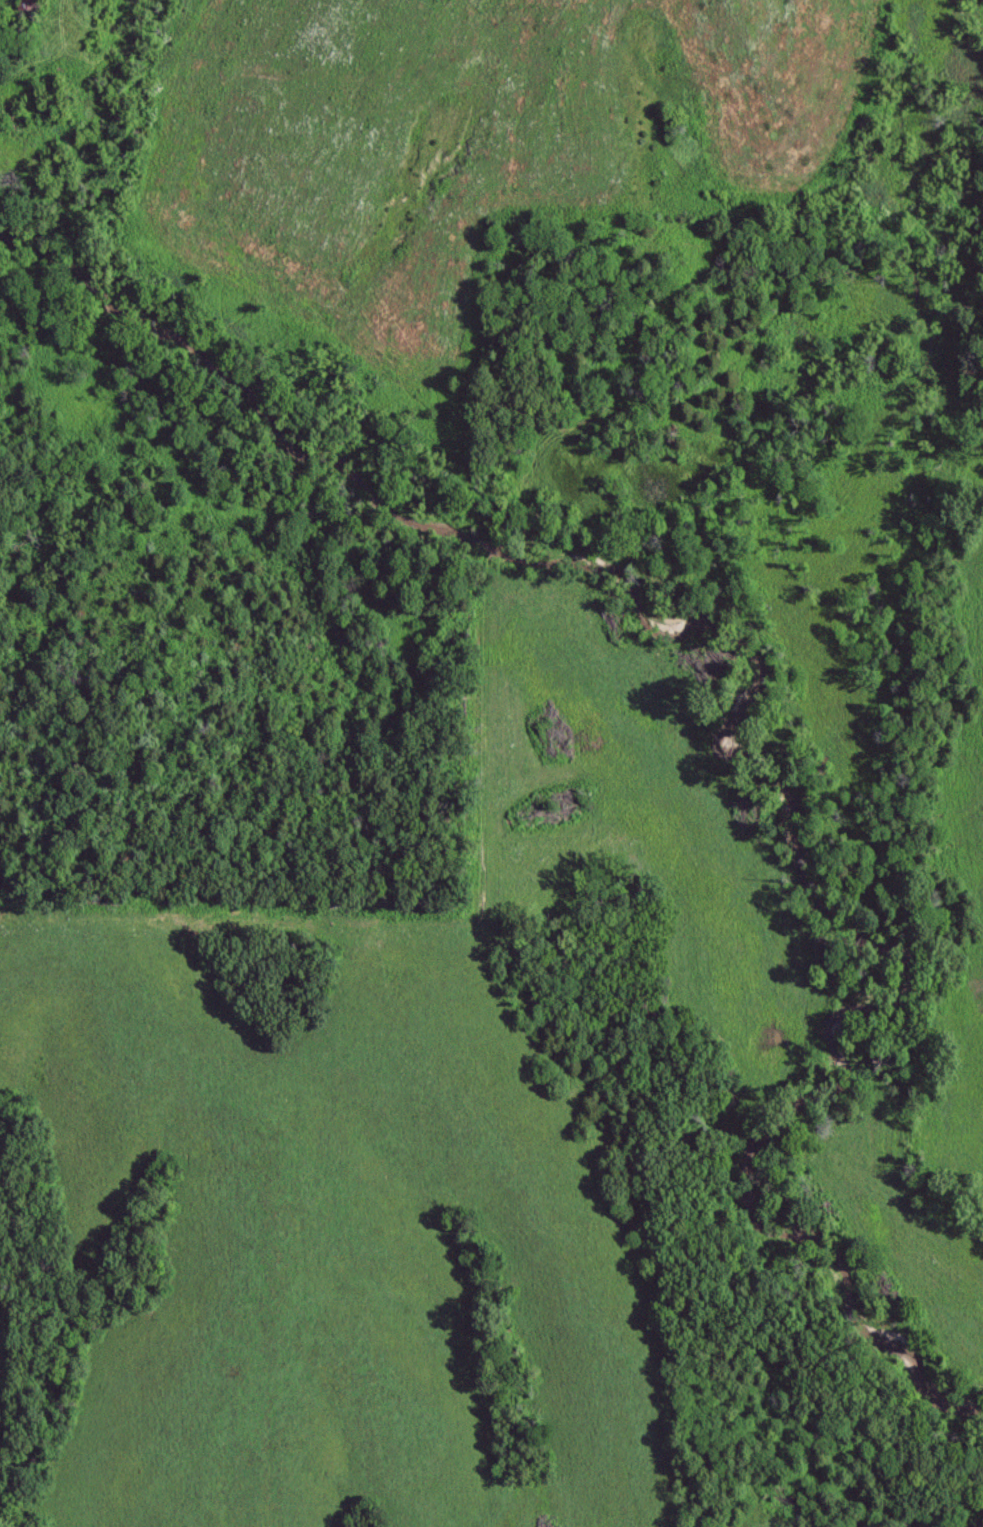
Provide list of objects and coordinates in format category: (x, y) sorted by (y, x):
building: (26, 5)

